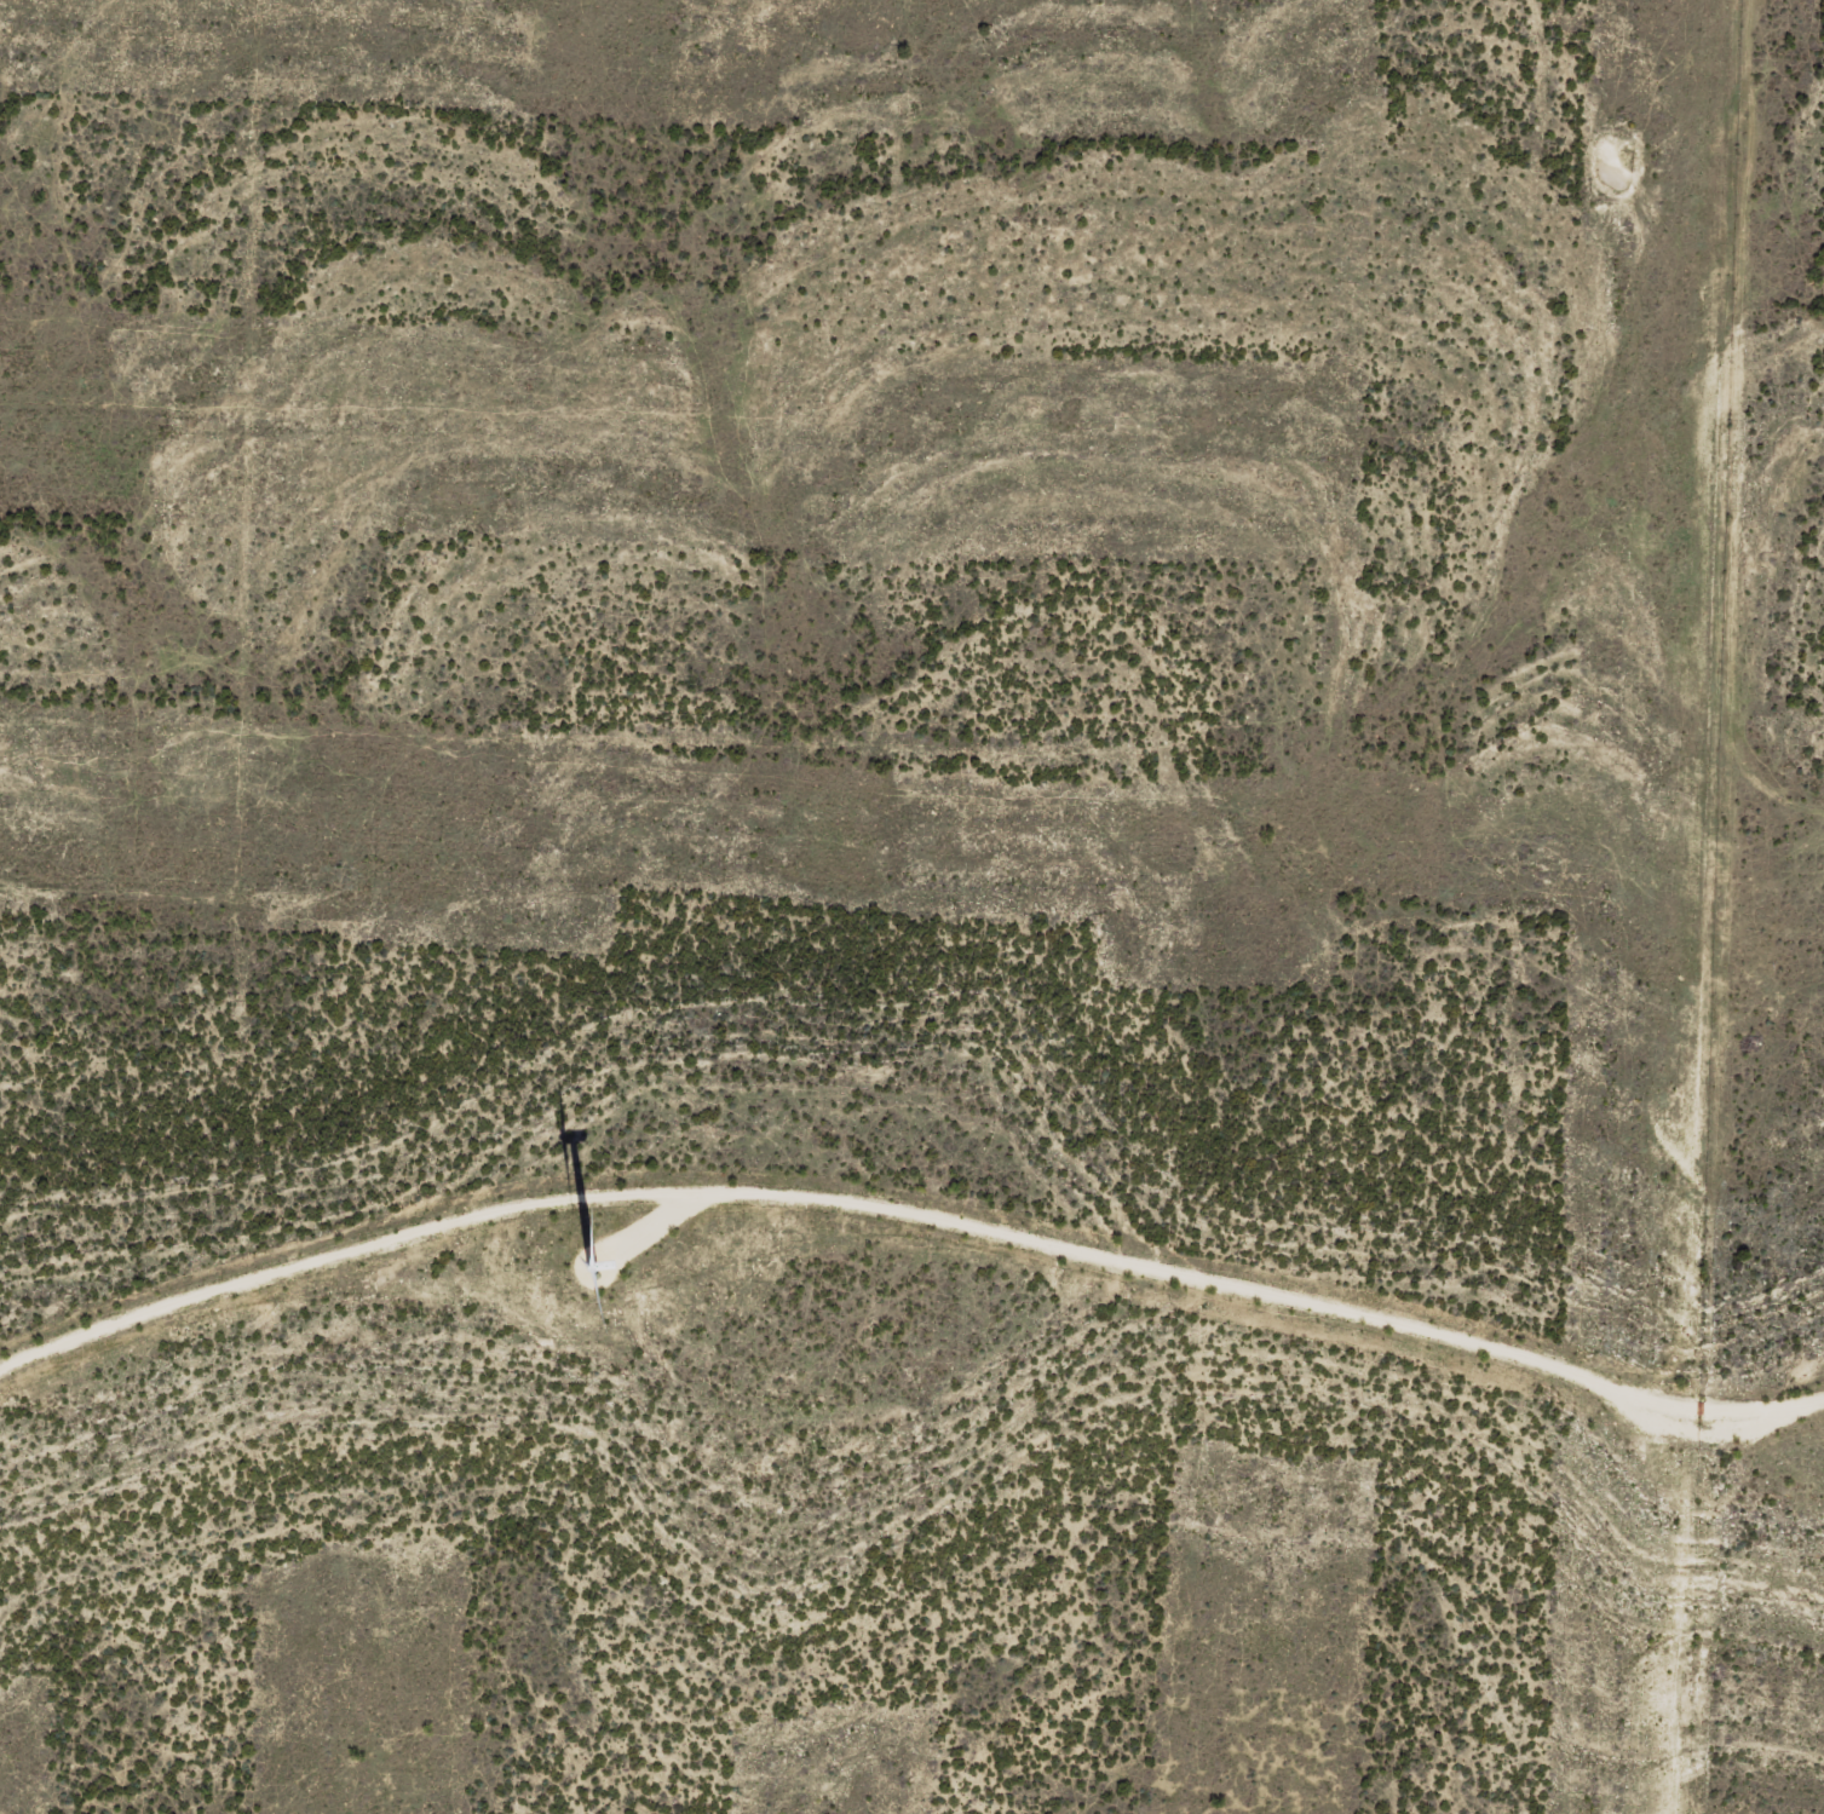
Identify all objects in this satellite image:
wind turbine: (589, 1263)

